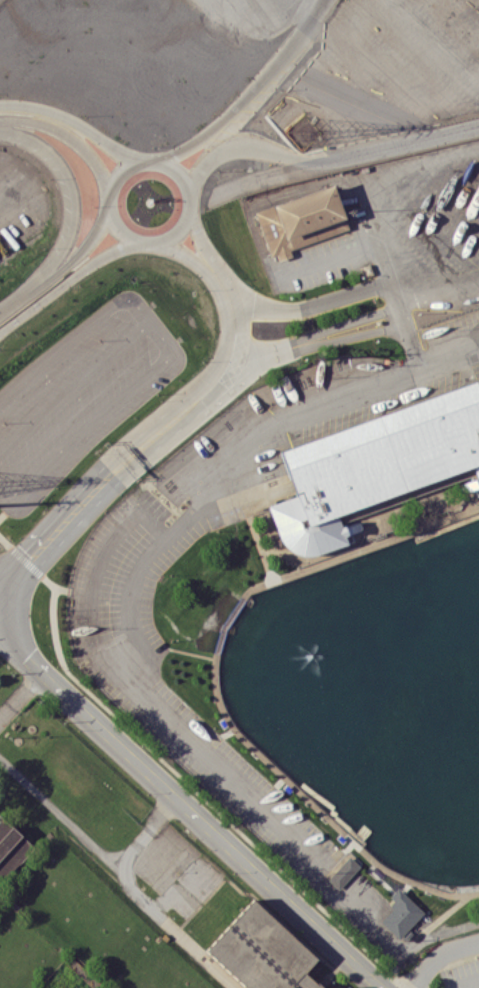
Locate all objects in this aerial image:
road: (299, 8)
road: (251, 95)
road: (74, 122)
road: (68, 136)
road: (322, 161)
road: (73, 193)
road: (109, 203)
building: (301, 221)
road: (197, 238)
road: (182, 251)
road: (323, 261)
road: (60, 268)
road: (63, 284)
road: (438, 293)
road: (348, 296)
road: (265, 309)
road: (236, 324)
road: (330, 329)
road: (334, 341)
road: (447, 345)
road: (234, 370)
road: (99, 484)
road: (253, 527)
traffic signals: (32, 557)
road: (135, 587)
pier: (452, 594)
pier: (459, 622)
pier: (352, 633)
pier: (465, 634)
pier: (462, 646)
road: (175, 650)
traffic signals: (29, 656)
pier: (361, 659)
pier: (466, 669)
pier: (391, 674)
road: (216, 687)
pier: (360, 692)
pier: (470, 693)
road: (22, 694)
pier: (399, 695)
pier: (376, 715)
pier: (474, 718)
pier: (407, 719)
pier: (385, 741)
pier: (478, 741)
pier: (415, 742)
pier: (408, 758)
pier: (422, 763)
pier: (394, 767)
pier: (431, 786)
pier: (403, 793)
road: (190, 808)
pier: (422, 813)
pier: (435, 835)
building: (12, 849)
pier: (455, 855)
pier: (434, 856)
road: (334, 860)
building: (343, 873)
road: (455, 892)
building: (401, 915)
road: (442, 917)
road: (427, 934)
building: (262, 952)
road: (439, 956)
road: (468, 984)
building: (347, 987)

